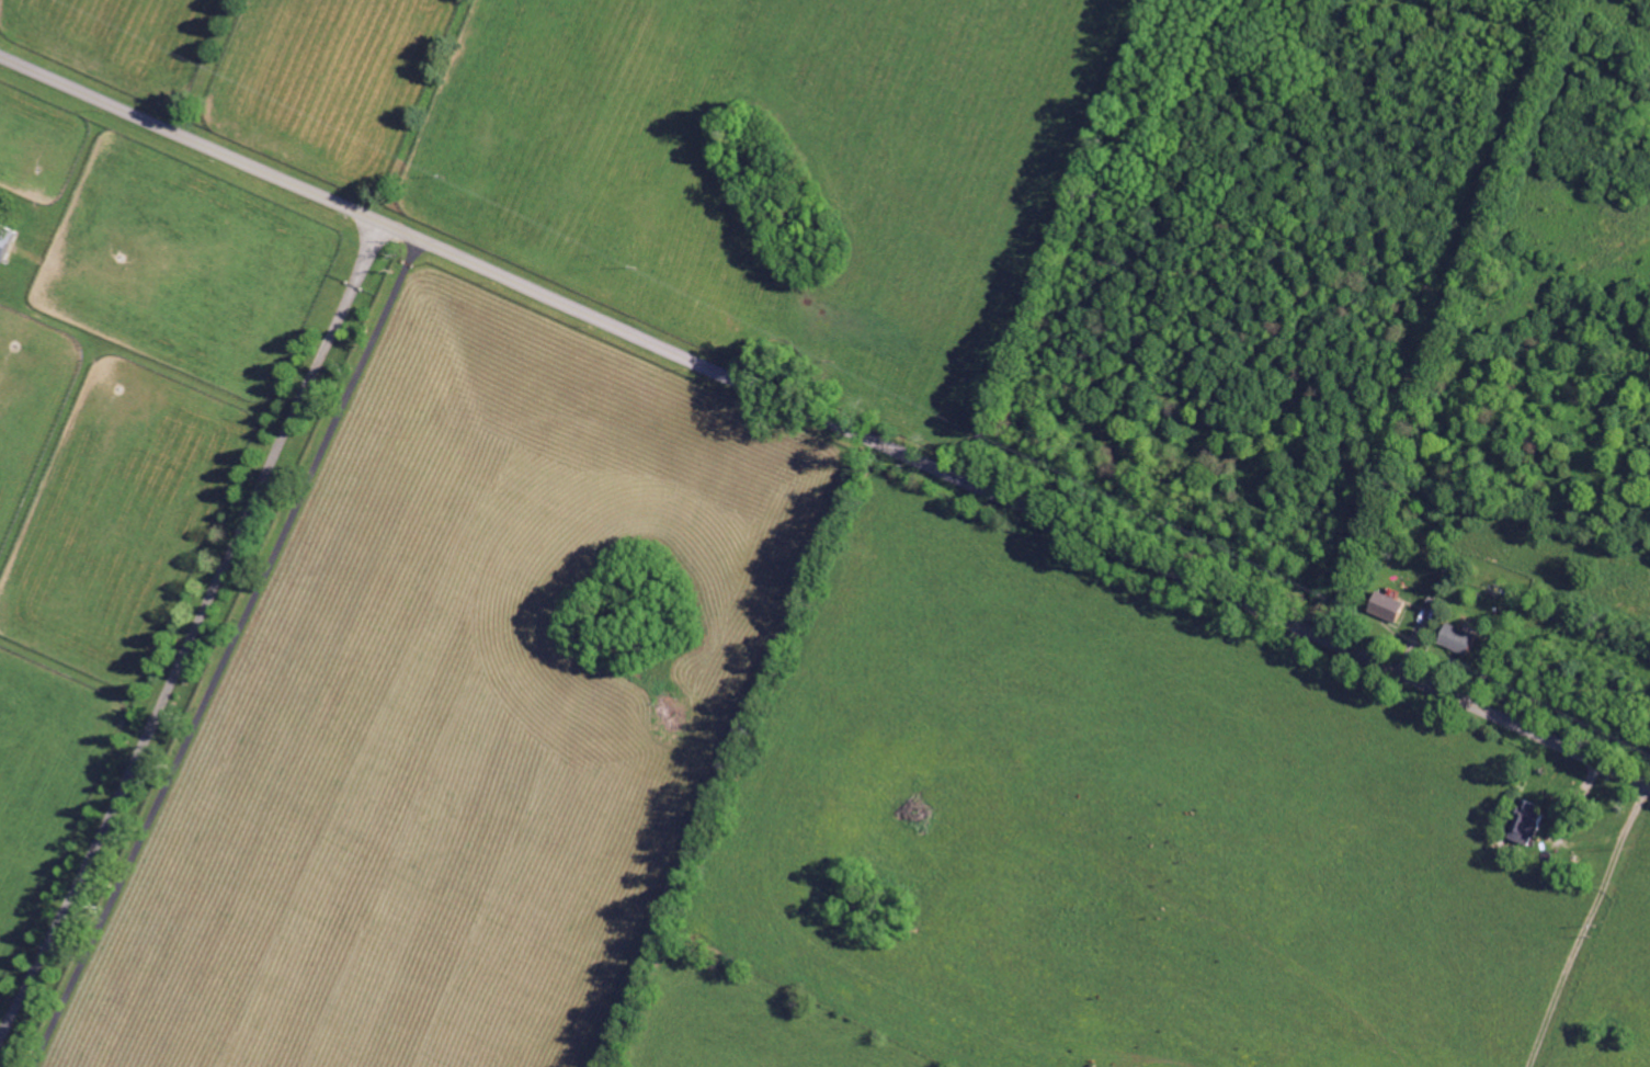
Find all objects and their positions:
road: (1058, 238)
building: (3, 246)
road: (824, 419)
building: (1382, 604)
road: (194, 633)
building: (1455, 637)
road: (227, 654)
building: (1523, 824)
road: (1556, 832)
road: (1586, 924)

